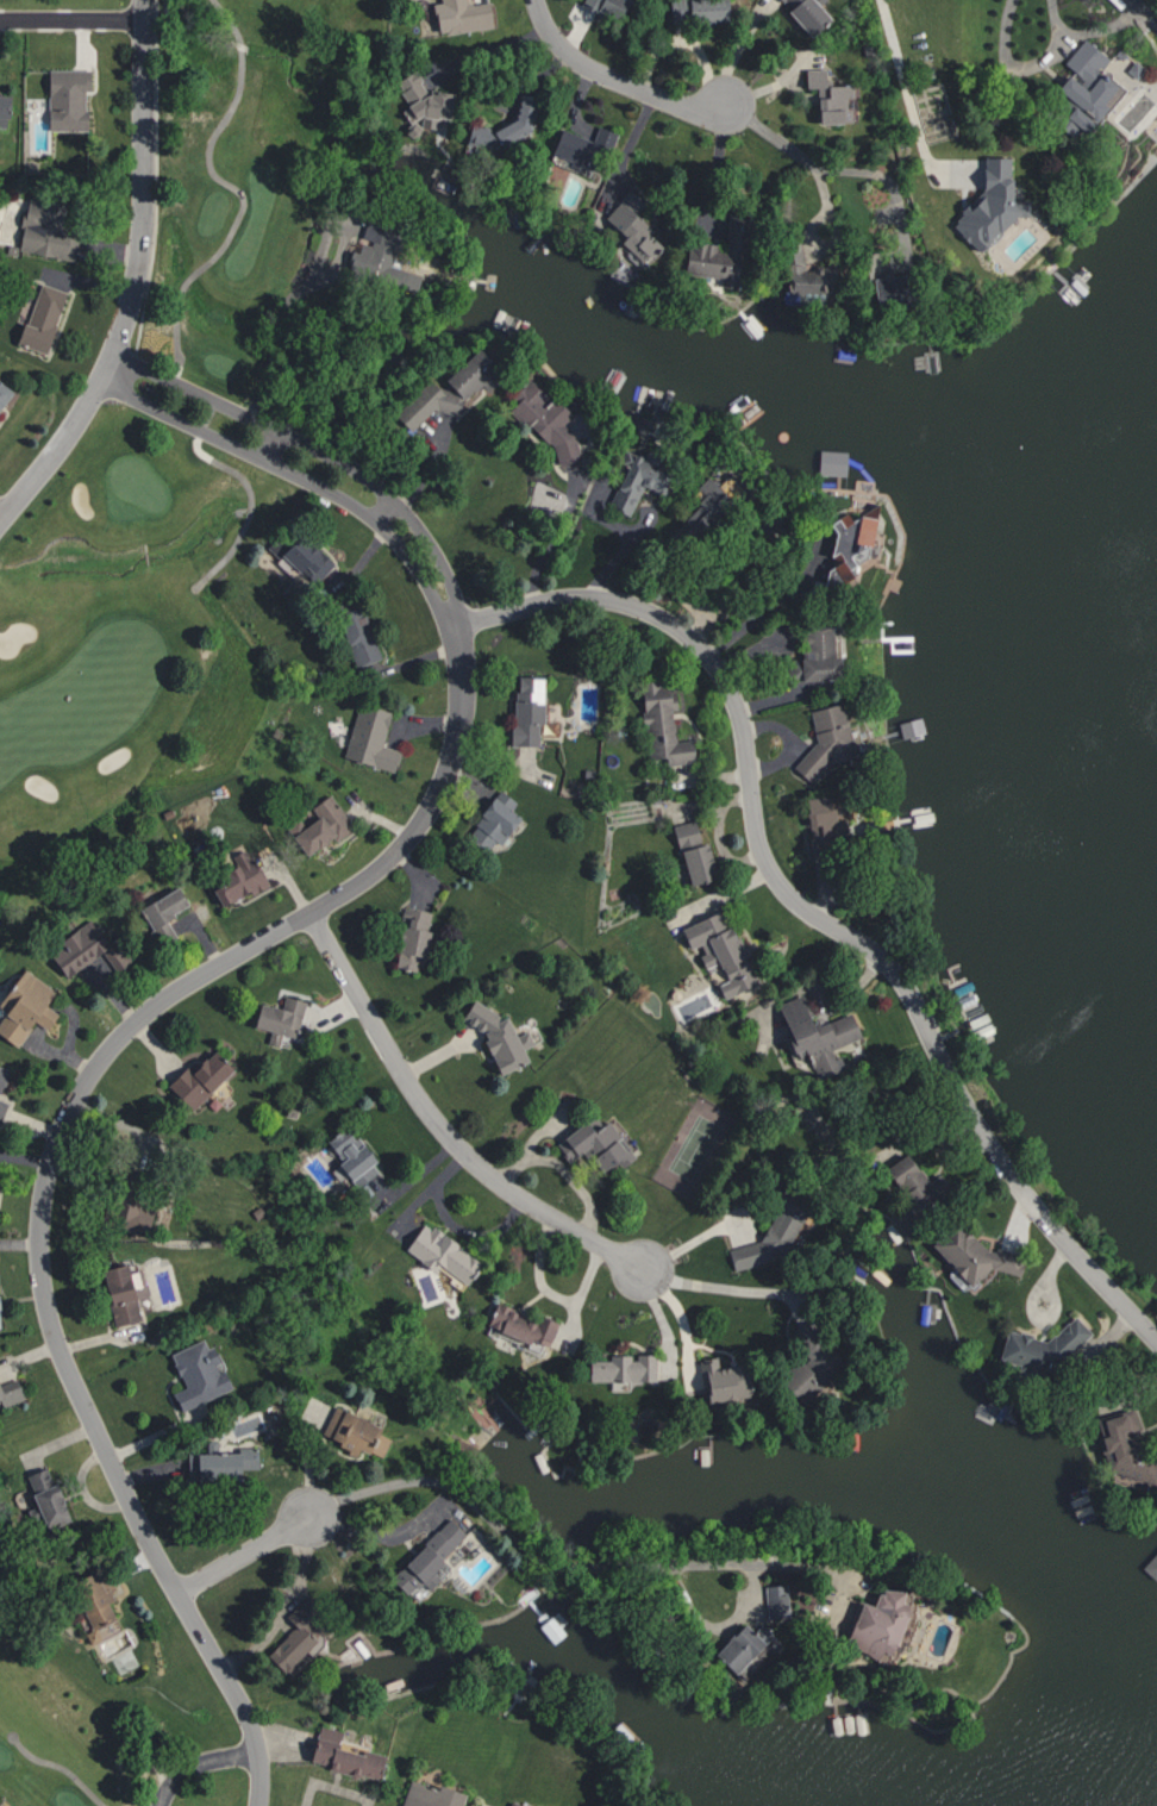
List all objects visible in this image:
road: (1120, 2)
building: (694, 12)
building: (802, 13)
building: (464, 15)
road: (71, 19)
road: (490, 51)
road: (614, 80)
building: (1081, 90)
road: (906, 94)
building: (825, 98)
building: (64, 99)
building: (423, 105)
building: (1, 108)
road: (770, 135)
building: (580, 146)
road: (865, 170)
road: (230, 185)
building: (986, 205)
road: (826, 212)
building: (631, 231)
building: (42, 232)
building: (379, 260)
building: (709, 263)
building: (796, 274)
road: (133, 279)
building: (875, 279)
building: (37, 318)
road: (281, 326)
park: (160, 382)
building: (451, 388)
building: (4, 398)
building: (539, 415)
building: (634, 480)
building: (703, 499)
road: (249, 506)
road: (1, 514)
road: (552, 539)
building: (849, 542)
building: (299, 551)
road: (763, 607)
building: (354, 633)
building: (811, 655)
building: (527, 710)
building: (663, 723)
building: (370, 738)
building: (830, 738)
building: (823, 821)
building: (494, 823)
building: (324, 825)
building: (693, 848)
building: (240, 879)
building: (164, 906)
road: (809, 912)
building: (413, 937)
building: (79, 946)
building: (720, 949)
road: (193, 979)
building: (24, 1005)
building: (281, 1018)
building: (818, 1035)
building: (500, 1037)
building: (4, 1076)
building: (200, 1079)
building: (2, 1108)
road: (440, 1126)
building: (596, 1144)
building: (352, 1157)
building: (917, 1182)
building: (131, 1213)
building: (773, 1233)
building: (443, 1252)
building: (974, 1254)
road: (718, 1286)
building: (121, 1293)
road: (1031, 1310)
building: (0, 1320)
building: (521, 1325)
building: (1043, 1346)
building: (625, 1367)
building: (812, 1371)
building: (199, 1373)
building: (725, 1381)
building: (11, 1392)
building: (356, 1432)
building: (1125, 1448)
building: (221, 1462)
building: (50, 1499)
road: (243, 1555)
building: (429, 1560)
road: (556, 1563)
building: (93, 1599)
building: (777, 1600)
road: (284, 1604)
building: (880, 1621)
building: (296, 1636)
building: (743, 1645)
park: (52, 1708)
building: (345, 1754)
road: (195, 1761)
road: (60, 1766)
road: (330, 1787)
building: (431, 1795)
building: (518, 1804)

